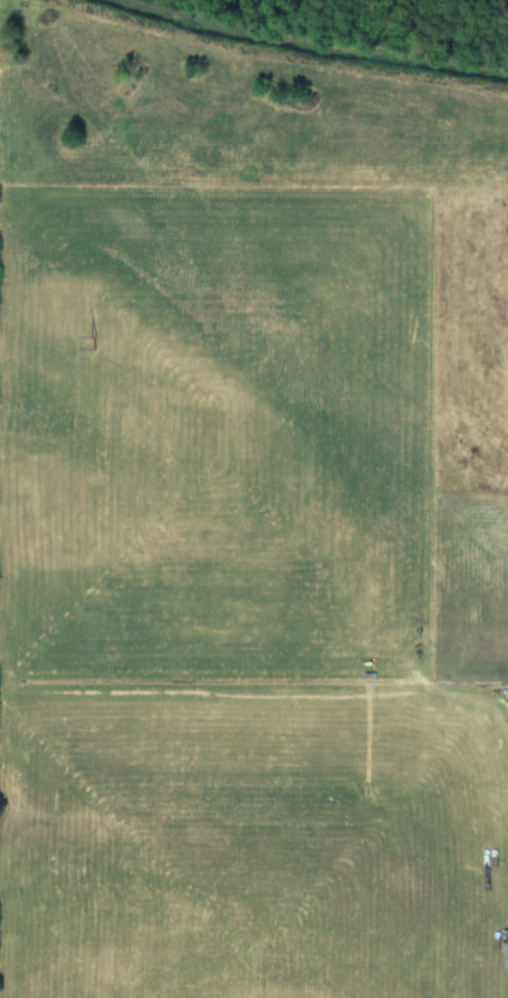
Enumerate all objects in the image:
power tower: (89, 341)
crop: (254, 499)

